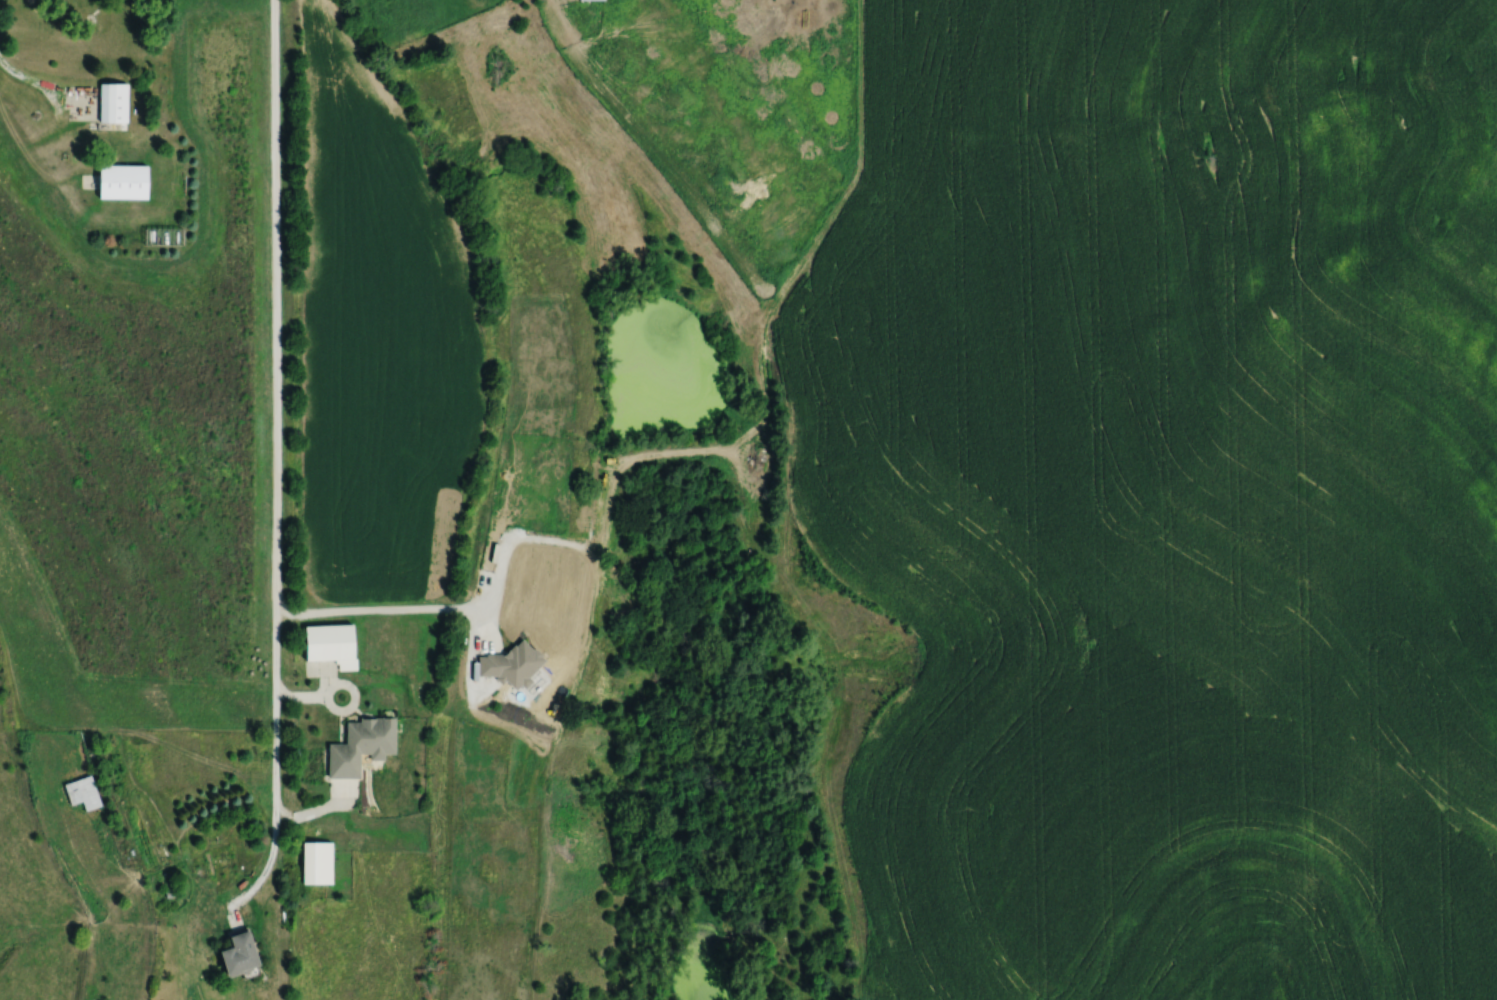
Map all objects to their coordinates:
building: (590, 0)
building: (111, 104)
building: (120, 181)
road: (276, 469)
road: (380, 608)
building: (328, 645)
building: (508, 667)
road: (310, 693)
building: (358, 746)
building: (90, 803)
building: (315, 863)
building: (236, 955)

